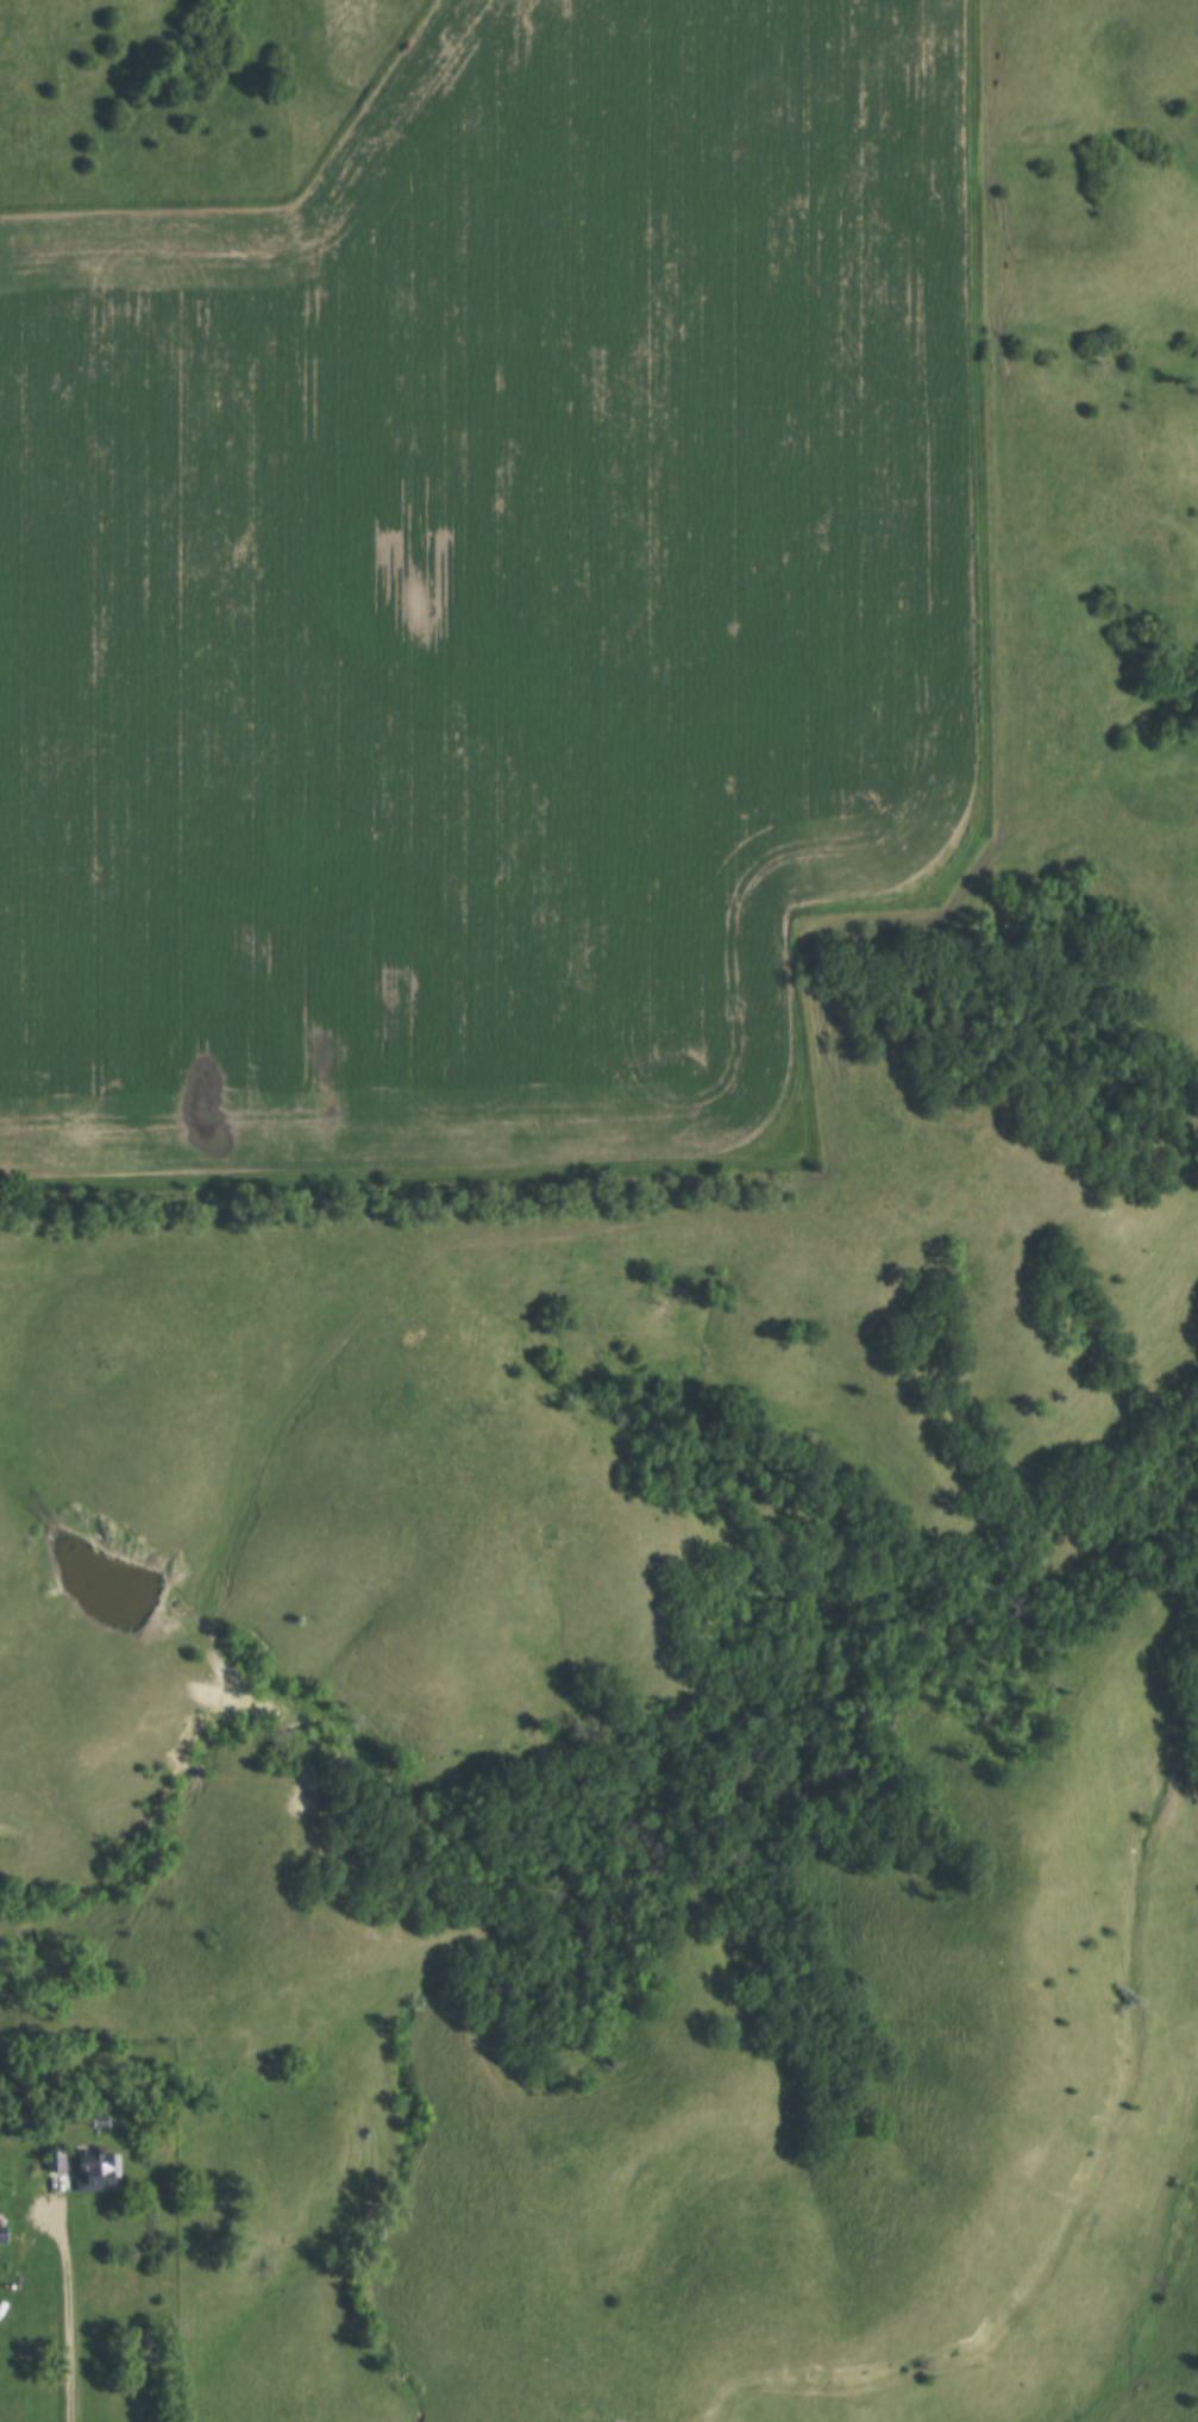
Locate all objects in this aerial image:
building: (55, 2159)
building: (95, 2164)
building: (1, 2232)

